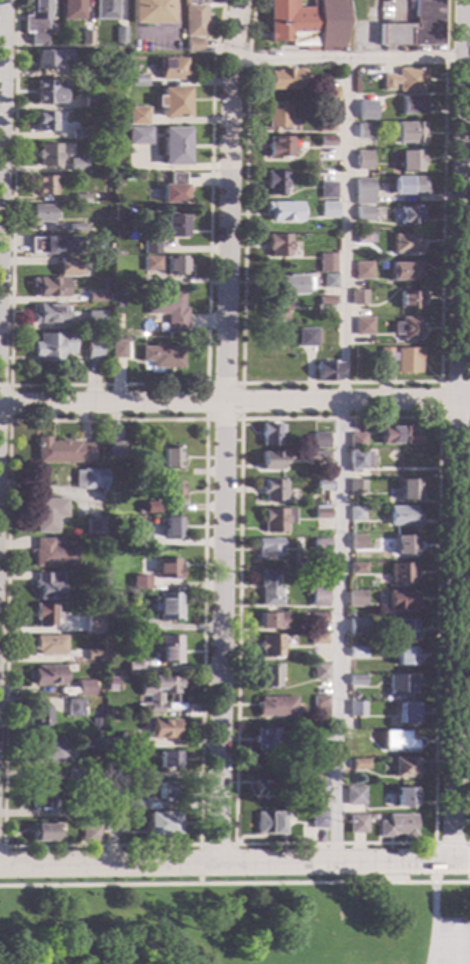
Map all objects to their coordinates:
building: (72, 9)
building: (105, 9)
building: (150, 11)
building: (195, 17)
building: (36, 20)
building: (305, 23)
building: (415, 26)
road: (171, 33)
building: (120, 34)
road: (258, 35)
building: (85, 37)
building: (192, 45)
building: (50, 57)
road: (346, 59)
building: (171, 68)
building: (86, 71)
building: (283, 78)
building: (137, 79)
building: (404, 79)
road: (1, 88)
building: (48, 91)
building: (328, 91)
building: (91, 99)
building: (172, 101)
building: (364, 101)
building: (411, 104)
building: (277, 114)
building: (137, 115)
building: (45, 121)
building: (325, 123)
building: (364, 130)
building: (408, 133)
building: (78, 134)
building: (138, 135)
building: (325, 140)
building: (173, 145)
building: (279, 146)
building: (48, 154)
building: (364, 156)
building: (410, 160)
building: (77, 164)
building: (273, 181)
building: (43, 185)
building: (407, 185)
building: (172, 188)
building: (326, 189)
building: (362, 190)
building: (80, 198)
building: (327, 210)
building: (282, 211)
building: (38, 213)
building: (363, 213)
building: (408, 215)
building: (171, 225)
building: (77, 227)
building: (363, 238)
building: (405, 243)
building: (149, 244)
building: (276, 244)
building: (53, 245)
building: (150, 263)
building: (174, 265)
building: (69, 267)
building: (325, 267)
building: (362, 270)
building: (404, 270)
building: (328, 280)
building: (290, 284)
building: (49, 286)
building: (95, 296)
building: (358, 296)
building: (409, 298)
building: (324, 304)
building: (167, 309)
building: (275, 310)
building: (49, 313)
building: (96, 319)
building: (363, 325)
building: (407, 328)
building: (307, 336)
building: (52, 346)
building: (117, 348)
building: (93, 349)
building: (163, 356)
building: (401, 358)
building: (326, 371)
road: (339, 382)
road: (109, 383)
road: (242, 383)
road: (440, 399)
road: (10, 401)
road: (234, 402)
road: (439, 417)
road: (11, 420)
road: (458, 430)
road: (223, 431)
building: (271, 434)
building: (398, 435)
building: (320, 440)
building: (357, 441)
building: (114, 449)
building: (64, 451)
building: (320, 454)
building: (170, 457)
building: (271, 460)
road: (340, 460)
building: (358, 460)
building: (90, 479)
building: (322, 484)
building: (356, 486)
building: (408, 489)
building: (271, 490)
building: (172, 492)
building: (151, 507)
building: (321, 513)
building: (355, 513)
building: (48, 514)
building: (402, 515)
building: (277, 519)
building: (95, 526)
building: (172, 527)
building: (140, 539)
building: (357, 542)
building: (403, 544)
building: (268, 547)
building: (320, 547)
building: (53, 552)
building: (167, 568)
building: (357, 568)
building: (400, 572)
building: (141, 580)
building: (48, 585)
building: (268, 588)
building: (356, 595)
building: (400, 599)
building: (319, 600)
building: (167, 605)
building: (44, 615)
building: (318, 617)
building: (272, 620)
building: (94, 622)
building: (138, 623)
building: (357, 626)
building: (403, 629)
building: (318, 638)
building: (50, 644)
building: (270, 645)
building: (169, 649)
building: (356, 651)
building: (94, 654)
building: (404, 655)
building: (134, 667)
building: (320, 671)
building: (48, 674)
building: (266, 676)
building: (356, 680)
building: (400, 685)
building: (84, 687)
building: (158, 692)
building: (319, 704)
building: (276, 705)
building: (74, 707)
building: (356, 709)
building: (406, 713)
building: (39, 714)
building: (163, 727)
building: (314, 733)
building: (126, 739)
building: (267, 739)
building: (397, 740)
building: (113, 742)
building: (48, 751)
building: (349, 751)
building: (167, 759)
building: (358, 763)
building: (404, 767)
building: (123, 772)
building: (74, 774)
building: (317, 786)
building: (263, 788)
building: (165, 791)
building: (354, 795)
building: (41, 796)
building: (404, 796)
building: (133, 800)
road: (469, 807)
building: (90, 812)
building: (317, 819)
building: (113, 821)
building: (268, 823)
building: (356, 823)
building: (162, 824)
building: (396, 825)
building: (44, 832)
building: (90, 833)
road: (461, 842)
road: (217, 843)
road: (451, 861)
road: (3, 862)
road: (216, 863)
road: (433, 871)
road: (234, 883)
park: (236, 919)
road: (432, 923)
park: (453, 940)

